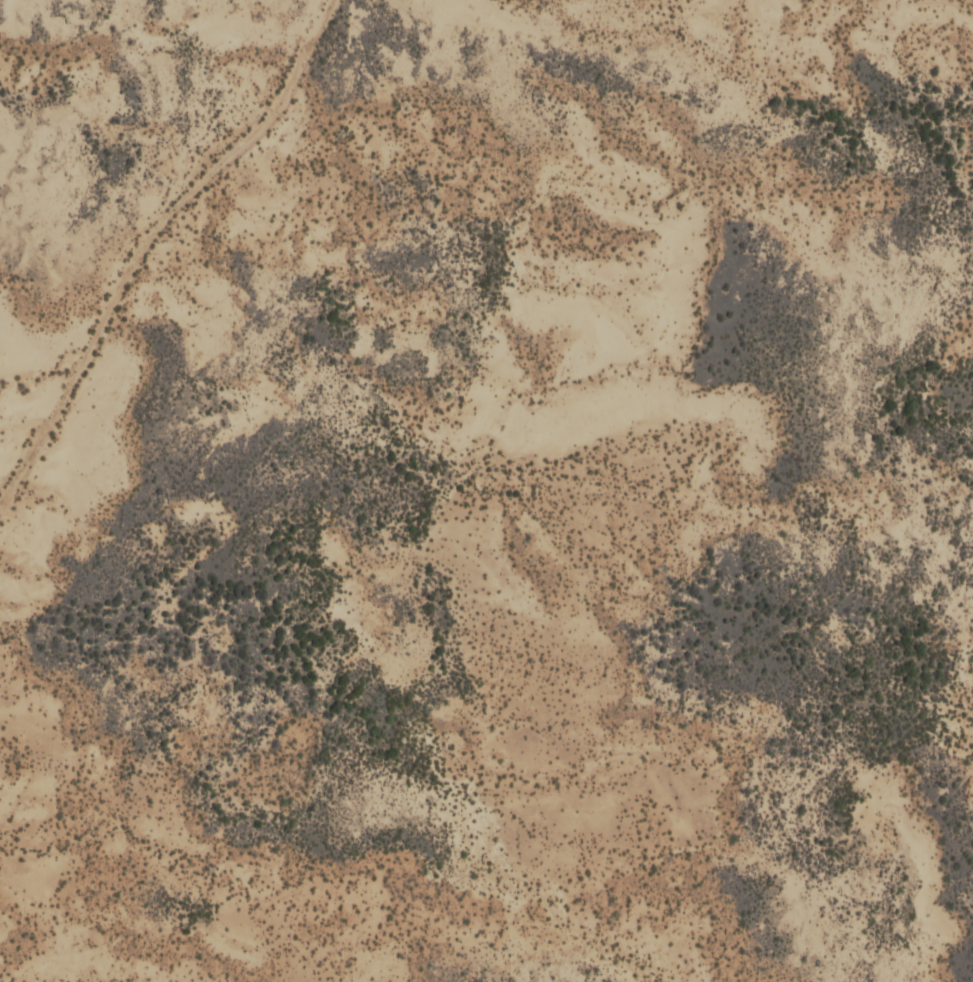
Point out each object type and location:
road: (134, 211)

